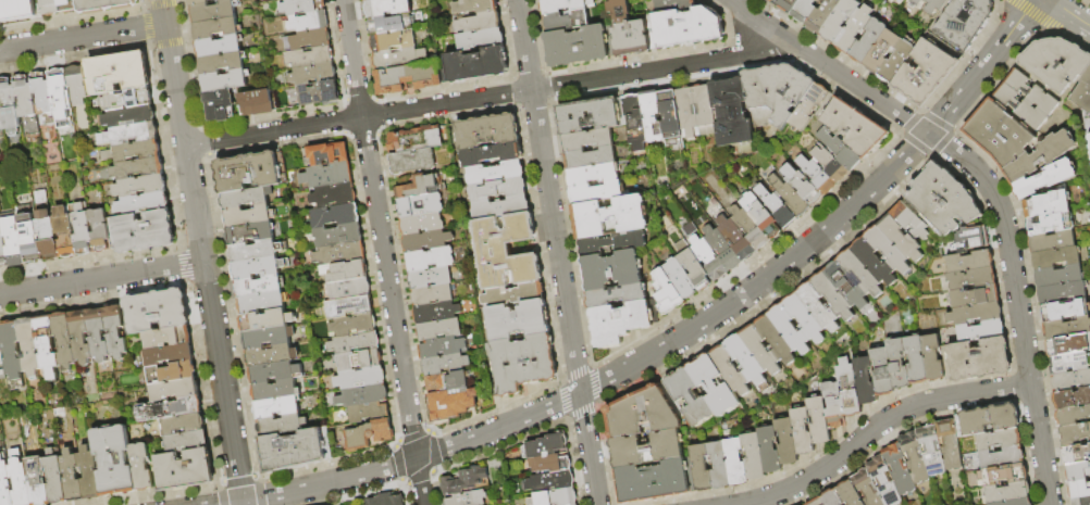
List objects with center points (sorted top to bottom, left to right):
building: (222, 0)
building: (369, 0)
building: (197, 1)
building: (772, 2)
building: (918, 3)
building: (103, 5)
building: (562, 5)
building: (672, 5)
building: (788, 5)
building: (67, 7)
building: (301, 7)
building: (474, 7)
building: (937, 7)
building: (18, 8)
building: (49, 8)
building: (386, 8)
building: (213, 11)
building: (805, 11)
road: (1070, 13)
building: (823, 16)
building: (840, 21)
building: (309, 22)
building: (566, 22)
building: (964, 22)
building: (478, 23)
building: (389, 24)
building: (216, 27)
building: (683, 28)
building: (628, 30)
building: (854, 30)
road: (83, 37)
building: (308, 40)
building: (480, 40)
building: (392, 41)
building: (868, 41)
building: (219, 46)
building: (577, 47)
building: (882, 52)
building: (309, 58)
building: (398, 59)
building: (221, 62)
building: (897, 62)
building: (1056, 64)
building: (474, 65)
building: (115, 73)
building: (927, 73)
building: (313, 75)
building: (407, 78)
building: (224, 80)
building: (76, 86)
building: (776, 91)
building: (318, 93)
building: (1031, 93)
building: (60, 96)
road: (483, 98)
building: (42, 99)
building: (128, 99)
building: (1083, 99)
building: (255, 102)
building: (219, 104)
building: (26, 106)
building: (808, 106)
building: (9, 108)
building: (1023, 109)
building: (704, 111)
building: (730, 113)
building: (686, 114)
building: (589, 115)
building: (128, 116)
building: (669, 116)
building: (652, 117)
building: (634, 123)
building: (851, 125)
building: (1, 128)
building: (487, 132)
building: (128, 134)
building: (1000, 135)
building: (429, 139)
building: (586, 140)
building: (1089, 140)
building: (402, 142)
building: (838, 150)
building: (132, 152)
building: (326, 154)
building: (492, 155)
building: (1041, 157)
building: (590, 159)
building: (411, 163)
building: (829, 165)
building: (137, 168)
building: (250, 173)
building: (591, 175)
building: (815, 176)
building: (325, 177)
building: (1044, 180)
building: (496, 182)
building: (140, 186)
building: (802, 186)
building: (416, 188)
road: (989, 189)
building: (595, 193)
building: (333, 197)
building: (788, 197)
building: (246, 199)
building: (942, 202)
building: (143, 204)
building: (419, 206)
building: (1048, 206)
building: (775, 207)
building: (500, 209)
building: (334, 216)
building: (759, 216)
building: (248, 217)
building: (610, 217)
building: (0, 220)
building: (911, 223)
building: (420, 225)
building: (1051, 225)
building: (46, 228)
building: (748, 229)
building: (100, 231)
building: (64, 232)
building: (83, 232)
building: (145, 232)
building: (249, 235)
building: (336, 236)
building: (29, 239)
building: (735, 239)
building: (901, 239)
building: (12, 240)
building: (971, 241)
building: (425, 242)
building: (612, 243)
building: (1053, 243)
building: (721, 250)
building: (255, 251)
building: (888, 251)
road: (202, 252)
road: (383, 252)
building: (505, 252)
road: (557, 252)
building: (2, 254)
building: (339, 254)
building: (707, 260)
building: (1055, 260)
building: (429, 261)
building: (874, 263)
building: (970, 264)
building: (692, 266)
building: (257, 267)
building: (610, 270)
building: (344, 272)
building: (860, 275)
building: (1060, 277)
road: (102, 279)
building: (429, 279)
building: (679, 279)
building: (973, 280)
building: (847, 286)
building: (258, 287)
building: (345, 290)
building: (665, 293)
building: (1062, 294)
building: (431, 295)
building: (513, 295)
building: (615, 296)
building: (833, 296)
building: (975, 299)
building: (262, 303)
building: (348, 307)
building: (819, 308)
building: (158, 311)
building: (1065, 312)
building: (435, 314)
building: (977, 315)
building: (805, 319)
building: (265, 321)
building: (517, 321)
building: (618, 323)
building: (352, 326)
building: (1067, 329)
building: (438, 330)
building: (115, 331)
road: (690, 331)
building: (790, 331)
building: (981, 332)
building: (97, 333)
building: (80, 337)
building: (166, 337)
building: (268, 338)
building: (62, 340)
building: (776, 341)
building: (354, 344)
building: (28, 345)
building: (45, 346)
building: (1068, 346)
building: (11, 349)
building: (437, 349)
building: (760, 351)
building: (1, 354)
building: (169, 354)
building: (271, 356)
building: (933, 359)
building: (357, 362)
building: (747, 362)
building: (917, 362)
building: (977, 362)
building: (522, 364)
building: (1070, 364)
building: (444, 365)
building: (899, 365)
building: (172, 373)
building: (731, 373)
building: (2, 374)
building: (273, 374)
building: (883, 374)
building: (359, 379)
building: (456, 381)
building: (866, 382)
building: (1072, 382)
building: (434, 386)
building: (714, 387)
building: (174, 390)
building: (850, 390)
building: (274, 391)
building: (361, 396)
building: (691, 400)
building: (1072, 400)
building: (450, 405)
building: (834, 406)
building: (275, 408)
building: (171, 409)
building: (368, 413)
building: (645, 414)
building: (1073, 417)
building: (986, 420)
building: (819, 422)
building: (183, 424)
road: (878, 425)
building: (281, 426)
building: (803, 433)
building: (369, 435)
building: (1075, 437)
building: (998, 440)
building: (186, 441)
building: (788, 442)
building: (949, 445)
building: (547, 449)
building: (646, 450)
building: (295, 451)
building: (930, 451)
building: (770, 452)
building: (1077, 456)
building: (754, 457)
building: (913, 458)
building: (1000, 458)
building: (114, 460)
building: (554, 464)
building: (736, 464)
building: (141, 467)
building: (720, 467)
building: (702, 469)
building: (897, 469)
building: (184, 470)
building: (89, 472)
building: (1078, 474)
building: (1002, 475)
building: (71, 476)
building: (54, 478)
building: (20, 479)
building: (4, 480)
building: (882, 481)
building: (37, 482)
building: (656, 482)
building: (468, 483)
building: (550, 483)
building: (866, 489)
building: (1079, 491)
building: (1006, 493)
building: (849, 494)
building: (830, 497)
building: (556, 498)
building: (469, 500)
building: (387, 501)
building: (815, 502)
building: (1081, 502)
road: (228, 503)
building: (1015, 503)

